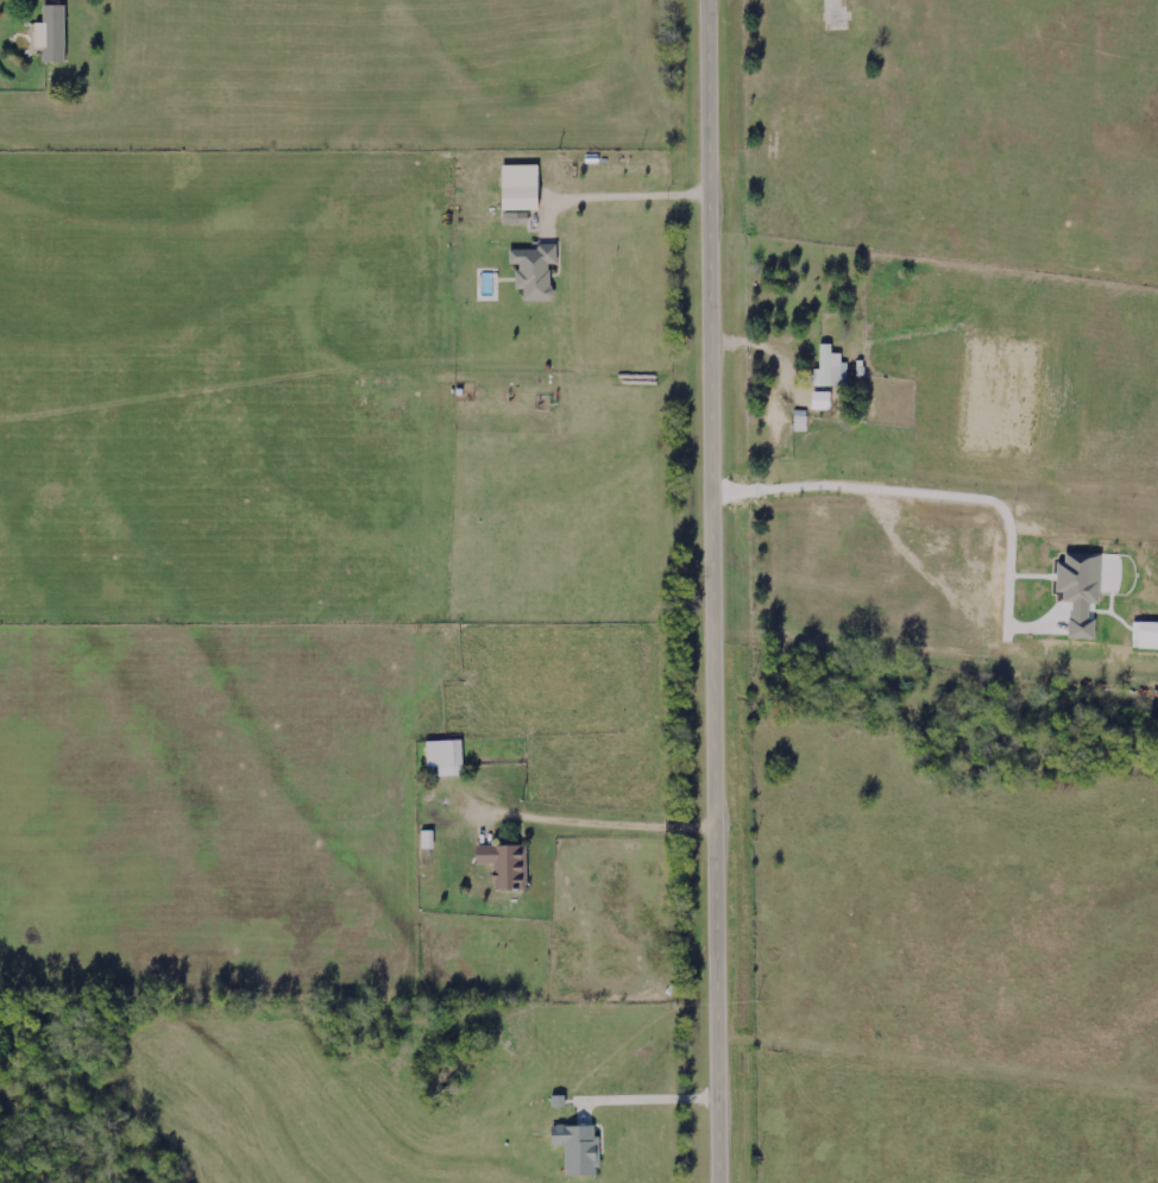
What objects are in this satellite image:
building: (837, 14)
building: (52, 34)
building: (520, 197)
building: (535, 271)
building: (831, 367)
building: (800, 420)
road: (712, 591)
building: (445, 757)
road: (616, 824)
building: (428, 839)
building: (505, 864)
building: (579, 1149)

